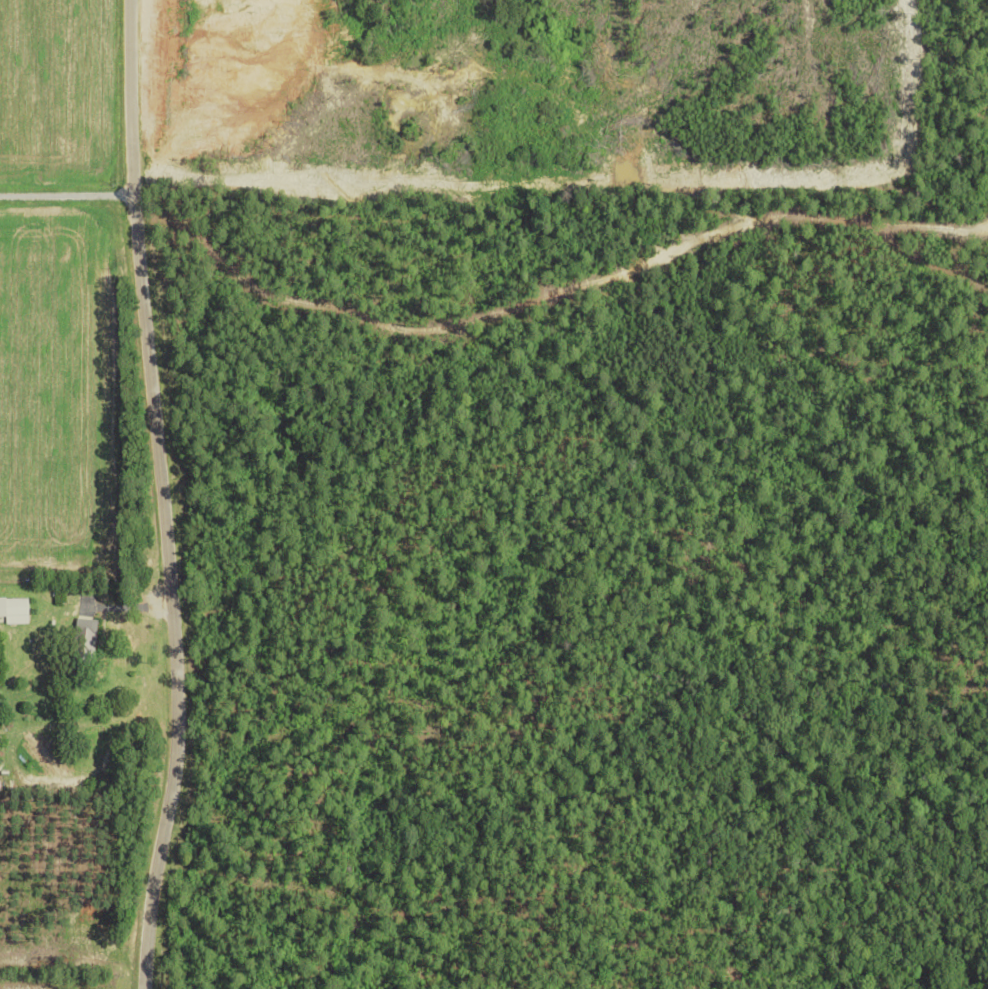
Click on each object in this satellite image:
road: (58, 194)
road: (156, 493)
building: (13, 610)
building: (85, 630)

